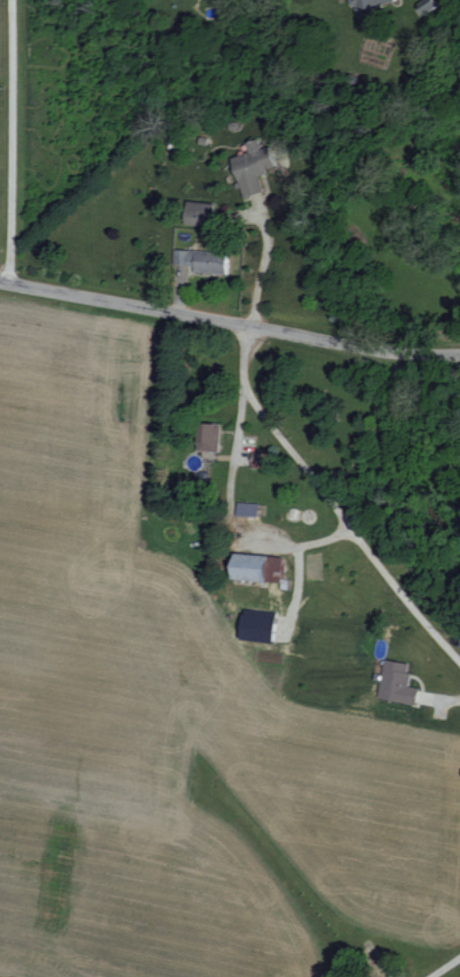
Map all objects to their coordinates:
building: (368, 9)
road: (8, 141)
building: (254, 165)
building: (197, 218)
building: (202, 260)
road: (229, 324)
building: (209, 437)
road: (292, 446)
road: (239, 506)
building: (246, 509)
building: (258, 567)
building: (258, 626)
building: (397, 683)
road: (447, 969)

